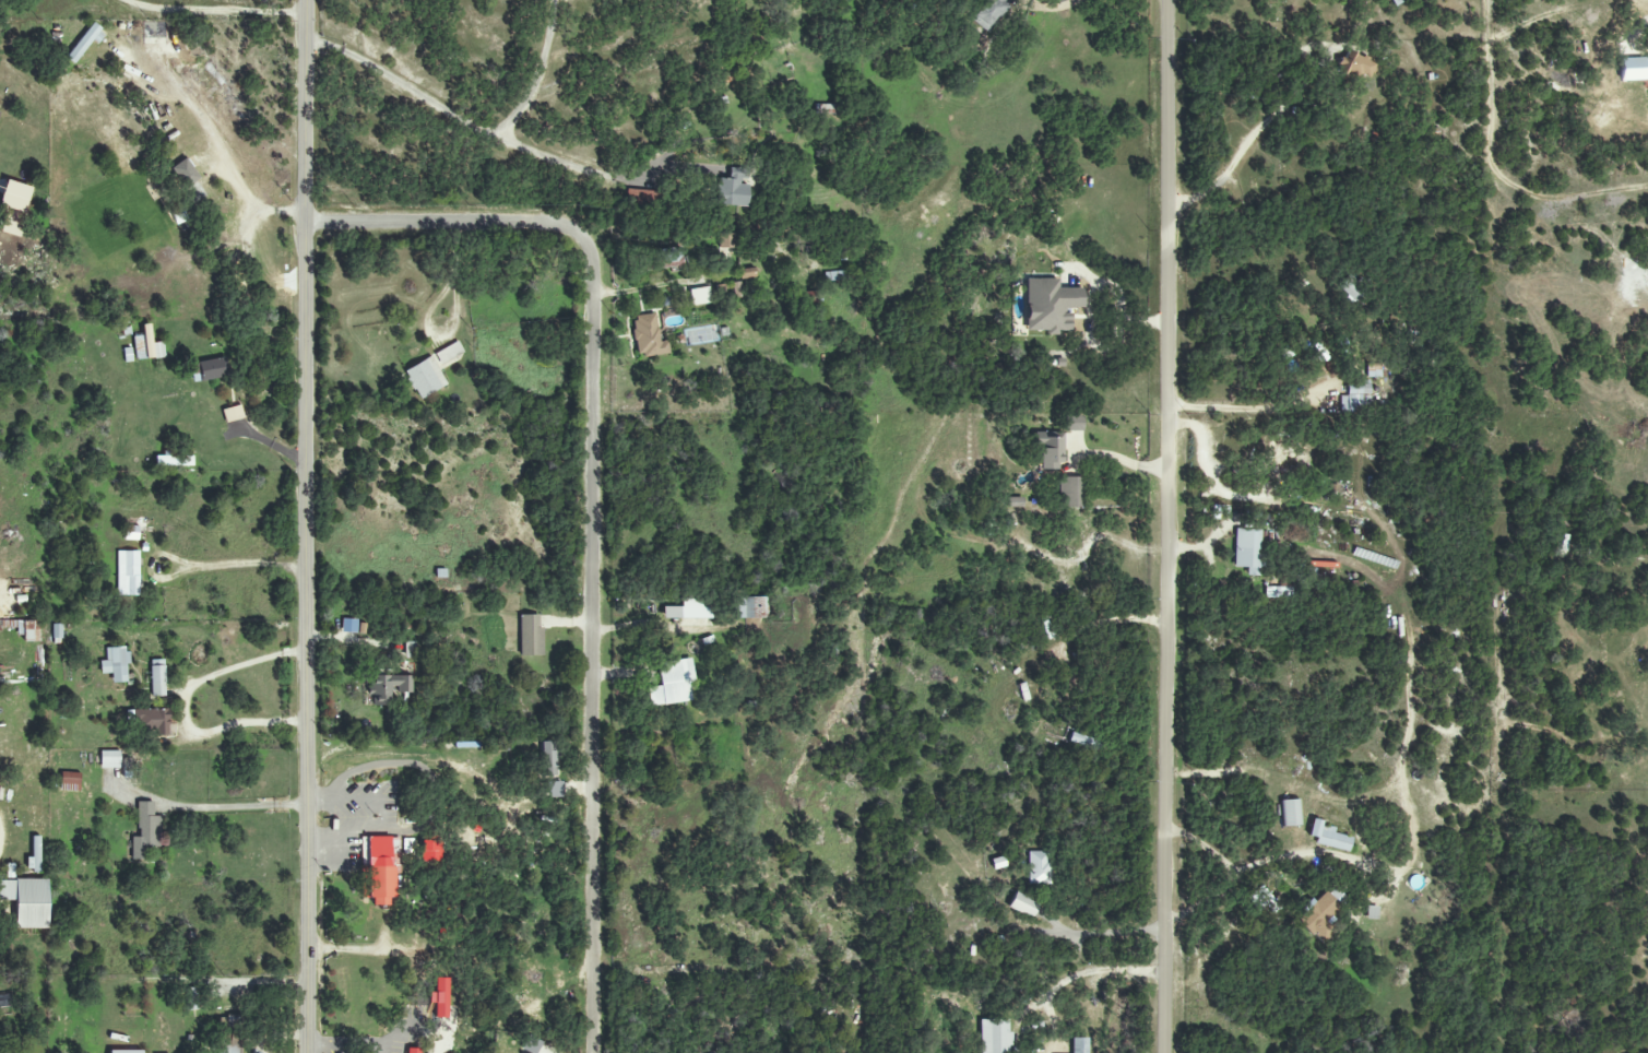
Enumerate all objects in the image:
road: (1052, 5)
road: (218, 10)
building: (988, 13)
building: (83, 44)
building: (1356, 67)
road: (541, 74)
building: (823, 109)
road: (474, 127)
road: (213, 132)
road: (1250, 137)
building: (185, 173)
building: (733, 189)
building: (726, 241)
building: (671, 258)
building: (747, 273)
road: (649, 286)
building: (1352, 288)
building: (736, 291)
building: (699, 296)
building: (1048, 306)
road: (454, 316)
building: (648, 336)
building: (448, 354)
building: (211, 369)
building: (425, 378)
building: (1355, 399)
road: (1242, 405)
building: (233, 414)
building: (1074, 423)
building: (1050, 450)
building: (1273, 457)
road: (1119, 460)
building: (174, 461)
road: (1205, 466)
building: (1068, 492)
building: (1013, 501)
road: (594, 504)
road: (309, 525)
road: (1169, 525)
building: (1247, 549)
road: (205, 565)
building: (128, 573)
building: (749, 607)
building: (689, 610)
building: (1046, 628)
building: (22, 629)
building: (57, 632)
building: (530, 635)
building: (115, 664)
building: (156, 677)
building: (672, 683)
building: (389, 687)
road: (187, 707)
building: (150, 721)
building: (1083, 741)
building: (109, 759)
building: (547, 759)
building: (69, 781)
road: (341, 800)
road: (229, 803)
building: (145, 832)
road: (364, 835)
building: (1328, 837)
building: (406, 845)
road: (1319, 853)
building: (380, 868)
building: (1039, 868)
road: (1232, 874)
building: (27, 901)
building: (1023, 904)
building: (1317, 915)
road: (1114, 934)
road: (1091, 970)
building: (191, 998)
building: (994, 1036)
road: (322, 1043)
road: (358, 1043)
building: (229, 1044)
building: (1080, 1045)
road: (334, 1048)
building: (126, 1051)

